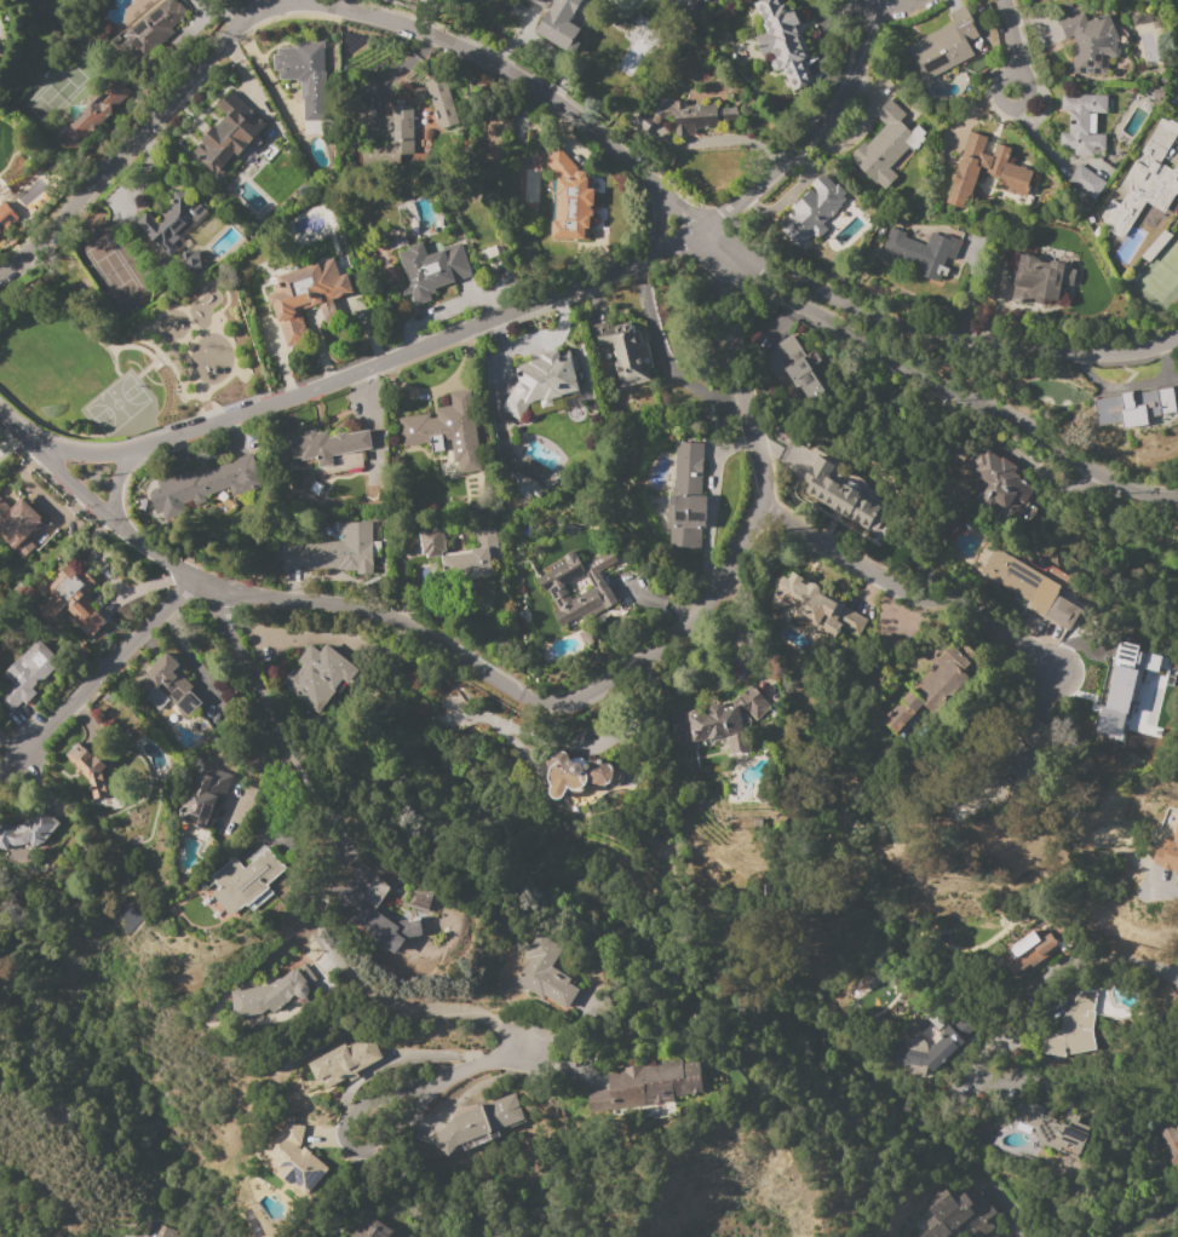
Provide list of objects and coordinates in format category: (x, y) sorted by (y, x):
building: (423, 1)
building: (540, 2)
building: (695, 4)
road: (272, 6)
road: (889, 6)
building: (559, 24)
building: (154, 27)
road: (1010, 36)
building: (782, 41)
building: (1090, 42)
building: (943, 46)
building: (304, 76)
road: (525, 84)
building: (439, 104)
road: (1007, 105)
building: (93, 114)
building: (694, 115)
building: (1081, 123)
building: (392, 130)
building: (229, 133)
road: (130, 138)
building: (885, 145)
building: (1009, 172)
building: (1086, 182)
building: (1144, 182)
building: (569, 200)
building: (810, 213)
building: (171, 220)
road: (656, 223)
building: (919, 252)
building: (191, 264)
building: (450, 274)
building: (1039, 278)
building: (306, 295)
road: (515, 310)
road: (938, 334)
building: (627, 355)
park: (128, 362)
building: (793, 366)
road: (186, 370)
building: (541, 381)
road: (949, 387)
building: (1134, 407)
building: (441, 424)
building: (326, 445)
building: (998, 479)
building: (209, 482)
building: (523, 484)
road: (122, 488)
building: (837, 494)
building: (688, 497)
building: (17, 527)
building: (431, 541)
building: (331, 553)
building: (472, 558)
building: (1015, 575)
building: (552, 588)
road: (909, 589)
building: (74, 600)
building: (815, 606)
building: (1062, 611)
building: (28, 673)
building: (317, 677)
road: (94, 678)
building: (930, 683)
building: (1122, 684)
building: (166, 687)
road: (525, 698)
building: (719, 723)
building: (1030, 731)
building: (88, 770)
building: (577, 775)
building: (203, 798)
building: (28, 832)
building: (1166, 853)
building: (245, 882)
road: (1162, 891)
building: (418, 899)
road: (323, 904)
building: (384, 919)
building: (1030, 955)
building: (545, 972)
building: (268, 995)
building: (1078, 1024)
road: (994, 1035)
building: (933, 1047)
building: (344, 1061)
building: (653, 1081)
road: (361, 1087)
building: (476, 1123)
building: (1051, 1129)
building: (1170, 1138)
building: (294, 1160)
building: (958, 1215)
road: (1149, 1219)
building: (370, 1229)
building: (163, 1232)

